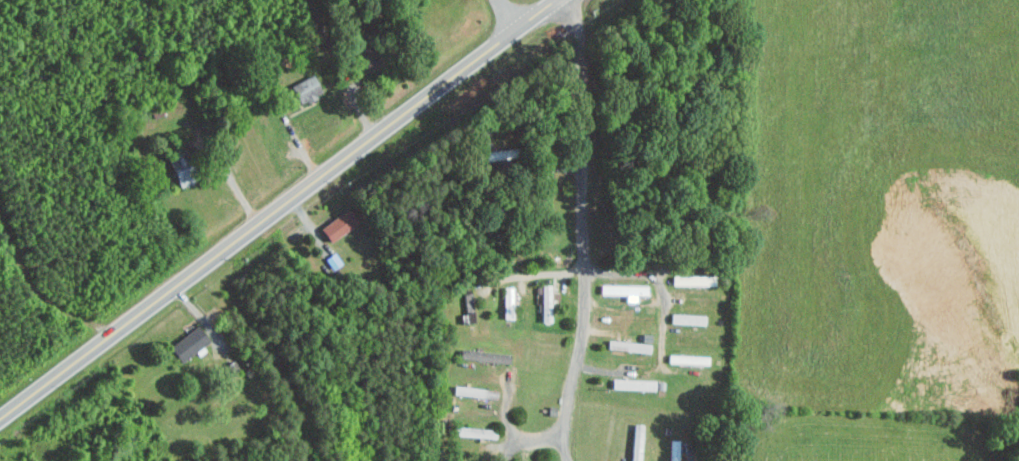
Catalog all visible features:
road: (502, 16)
building: (365, 57)
building: (303, 90)
road: (689, 110)
road: (234, 183)
road: (278, 211)
building: (335, 225)
road: (585, 230)
road: (615, 267)
building: (626, 290)
building: (184, 344)
building: (627, 346)
building: (481, 356)
building: (685, 359)
building: (632, 384)
building: (635, 442)
road: (530, 443)
building: (674, 450)

